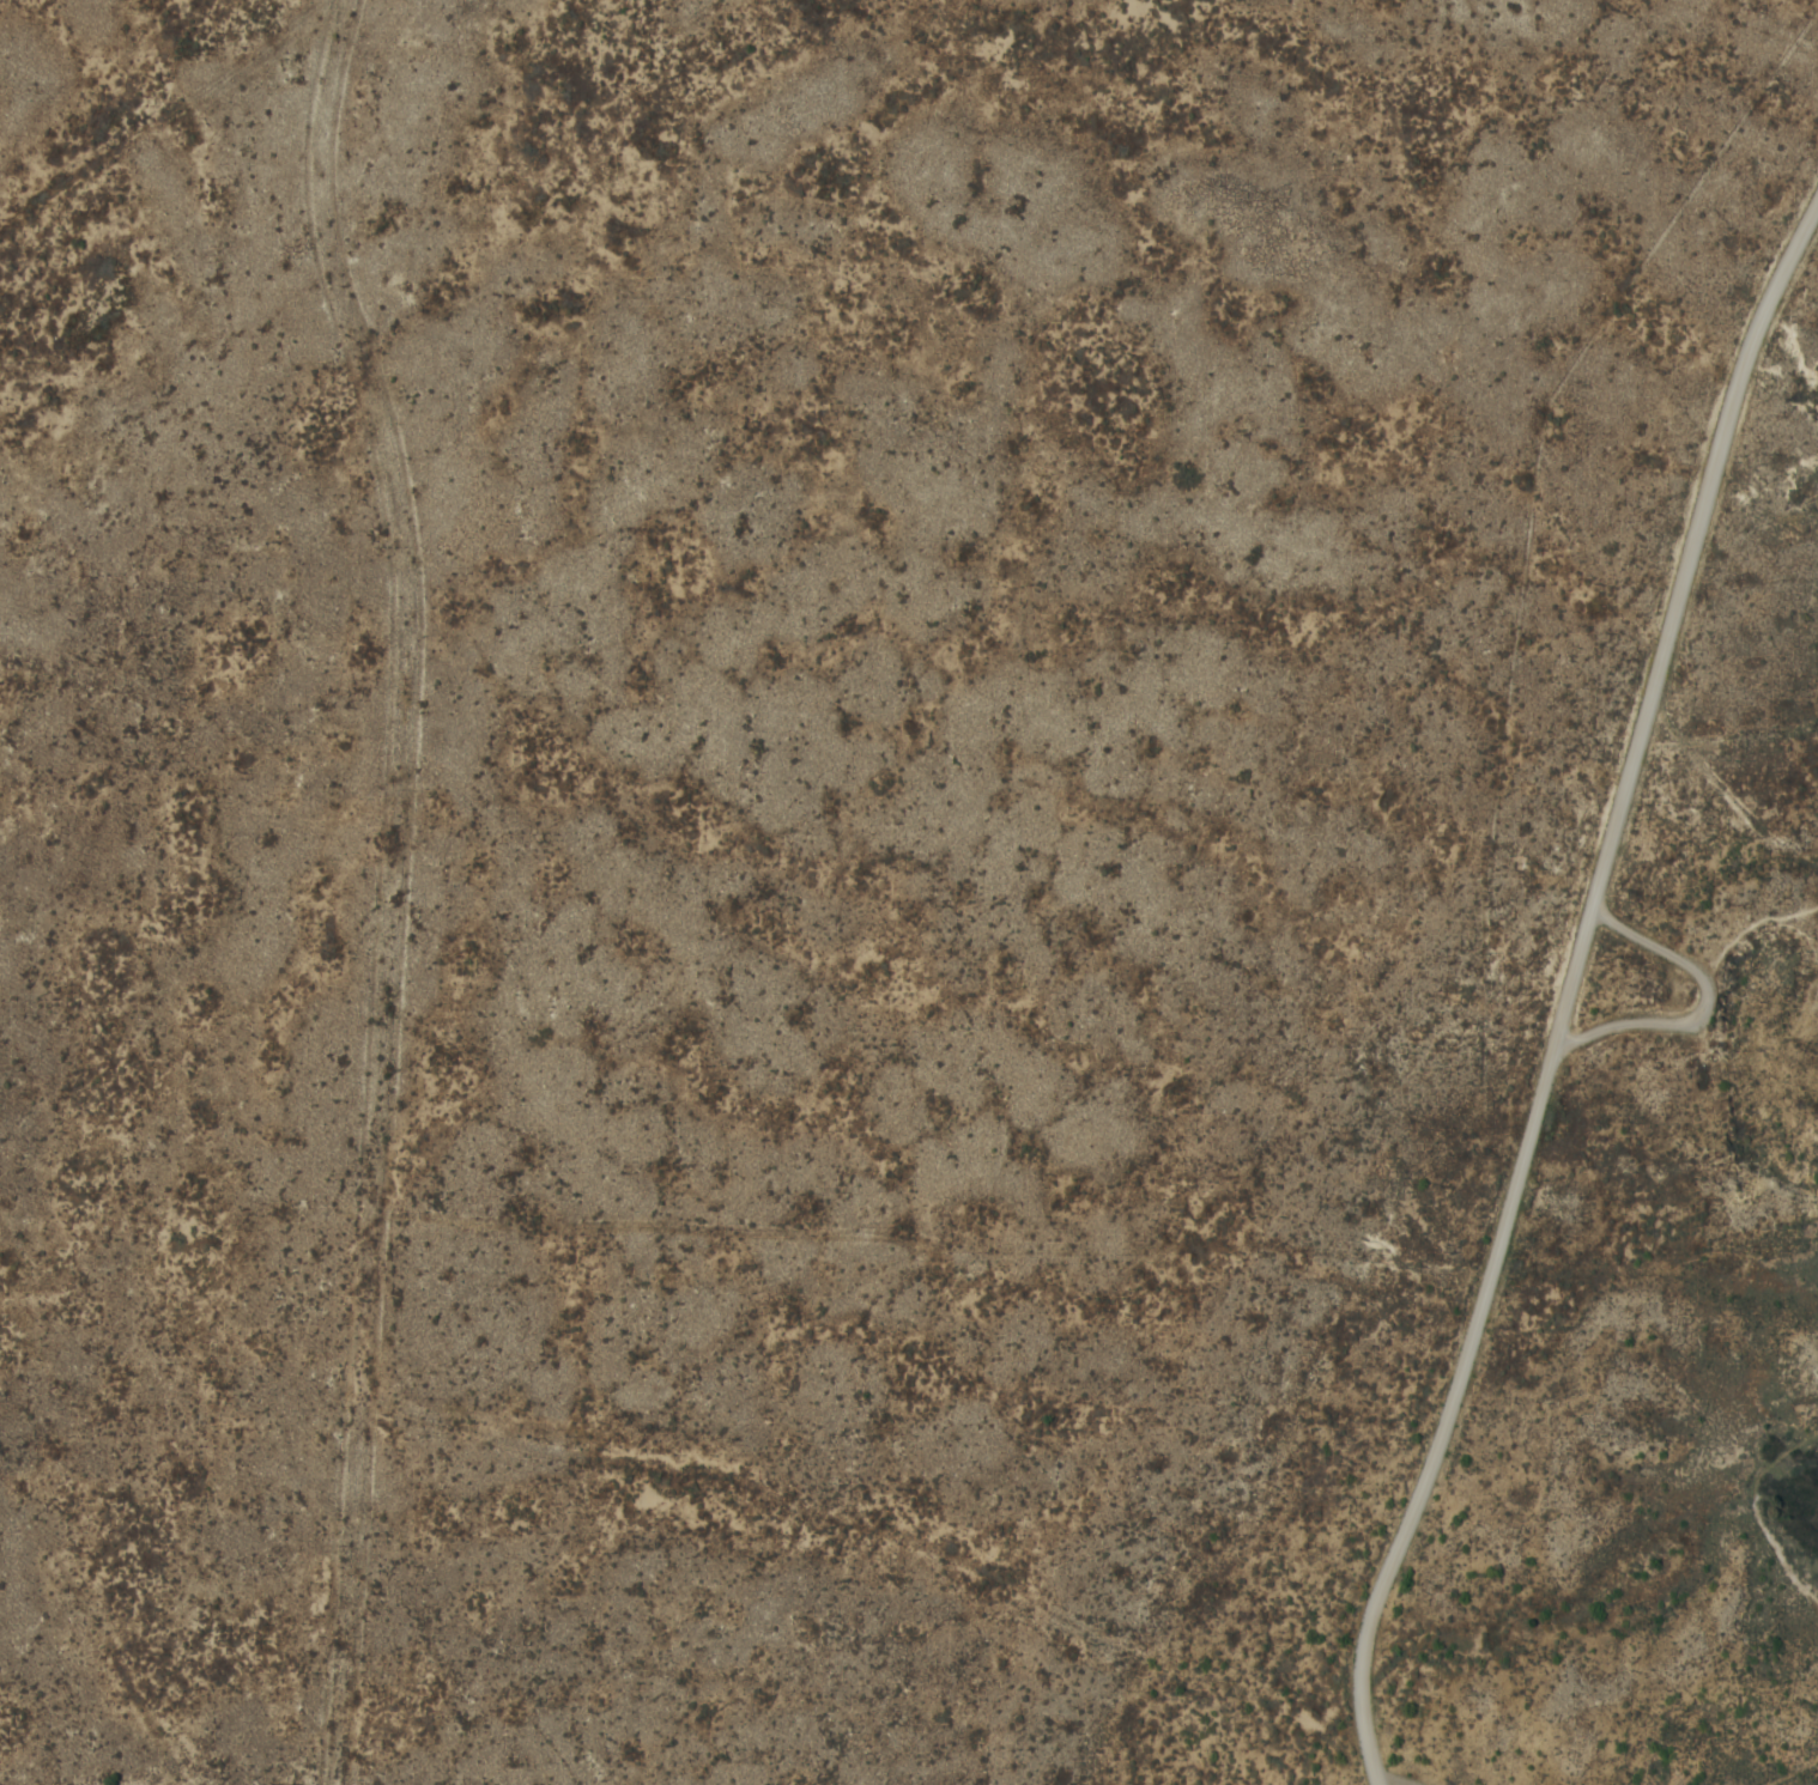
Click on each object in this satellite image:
road: (1571, 996)

